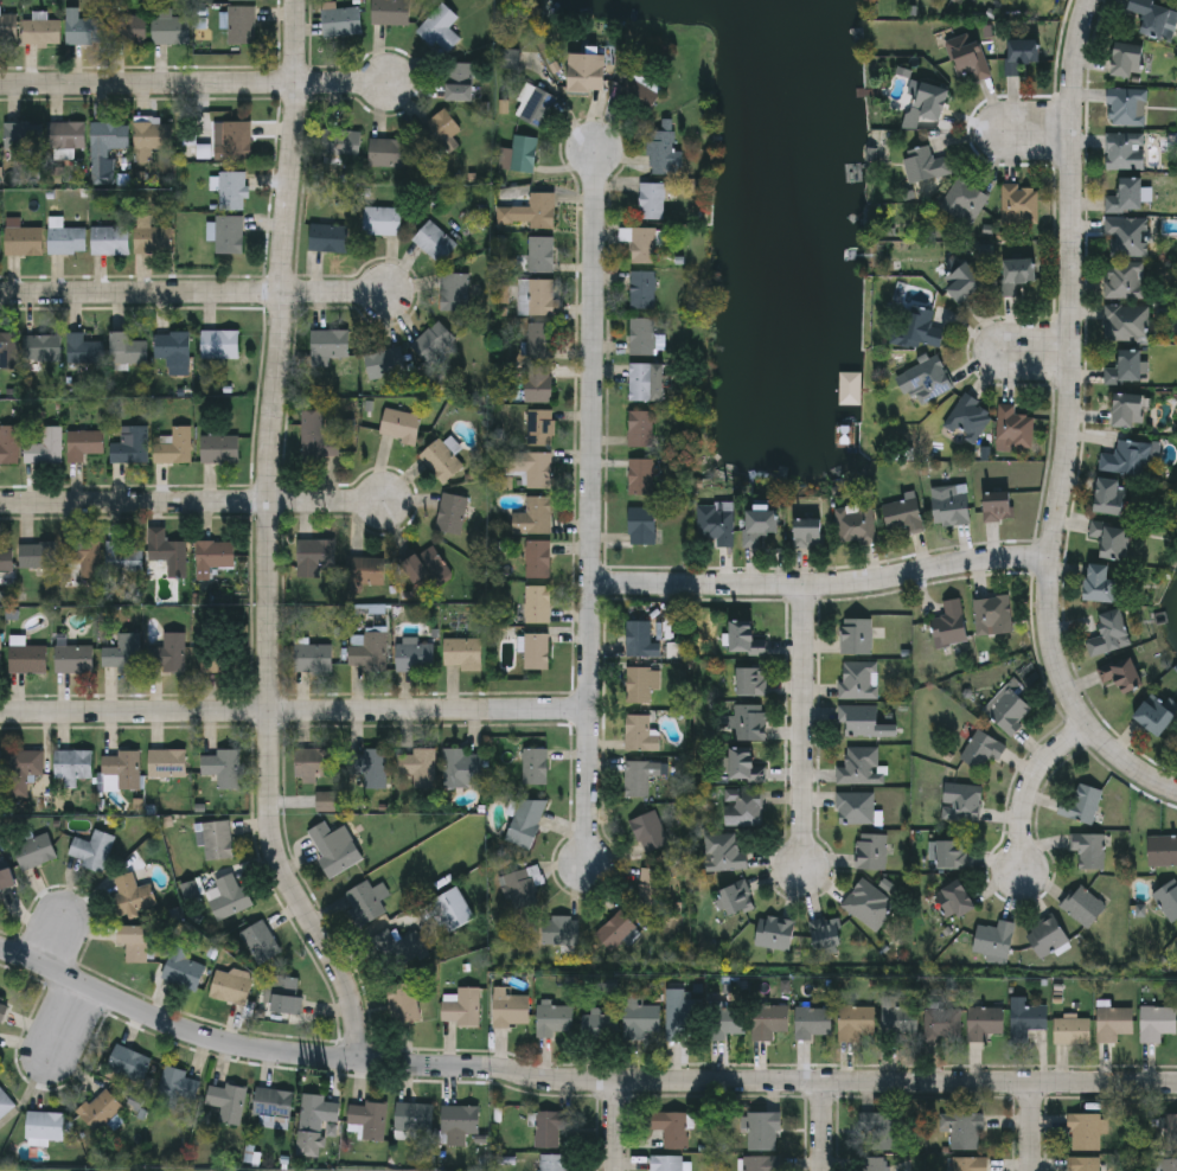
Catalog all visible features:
building: (243, 1)
building: (390, 12)
building: (1152, 15)
building: (341, 20)
building: (241, 24)
building: (8, 26)
building: (440, 27)
building: (128, 28)
building: (171, 28)
building: (40, 30)
building: (83, 30)
building: (1021, 52)
building: (967, 55)
building: (508, 57)
building: (1127, 59)
building: (586, 71)
building: (459, 81)
road: (197, 85)
building: (640, 89)
building: (932, 100)
building: (537, 105)
building: (1126, 105)
building: (440, 130)
building: (23, 134)
building: (65, 134)
building: (109, 134)
road: (1037, 134)
building: (151, 136)
building: (232, 139)
building: (340, 143)
building: (663, 149)
building: (1125, 149)
building: (390, 151)
building: (522, 152)
building: (925, 162)
building: (231, 190)
building: (1126, 196)
building: (651, 199)
building: (964, 200)
building: (1019, 204)
building: (533, 210)
building: (382, 219)
building: (229, 233)
building: (151, 236)
building: (1127, 236)
building: (330, 237)
building: (21, 238)
building: (66, 239)
building: (110, 239)
building: (434, 241)
building: (642, 244)
building: (0, 245)
building: (540, 254)
building: (1016, 273)
building: (1125, 280)
building: (962, 282)
building: (642, 289)
building: (454, 292)
road: (193, 294)
building: (538, 297)
building: (1127, 322)
building: (919, 327)
building: (641, 335)
building: (433, 341)
building: (219, 344)
building: (327, 345)
building: (41, 346)
building: (84, 347)
building: (127, 348)
building: (173, 348)
building: (8, 350)
road: (1036, 353)
building: (538, 361)
building: (384, 363)
building: (1126, 367)
building: (925, 378)
building: (646, 382)
building: (1128, 410)
building: (968, 416)
road: (1069, 421)
building: (399, 424)
building: (540, 427)
building: (1015, 427)
building: (640, 428)
building: (316, 437)
building: (8, 443)
building: (83, 443)
building: (129, 444)
building: (45, 446)
building: (173, 447)
building: (219, 448)
building: (1127, 456)
building: (441, 460)
building: (529, 467)
building: (640, 476)
building: (1109, 495)
road: (194, 504)
building: (949, 504)
building: (997, 506)
road: (593, 511)
building: (450, 512)
building: (533, 514)
building: (903, 514)
building: (715, 520)
building: (855, 521)
building: (641, 524)
building: (760, 524)
building: (808, 531)
building: (1112, 538)
road: (270, 540)
building: (315, 551)
building: (38, 552)
building: (166, 552)
building: (83, 556)
building: (122, 556)
building: (212, 556)
building: (535, 556)
building: (6, 559)
building: (365, 569)
building: (1101, 583)
road: (824, 584)
building: (537, 603)
building: (992, 614)
building: (949, 622)
building: (1111, 633)
building: (856, 635)
building: (744, 638)
building: (640, 639)
building: (367, 647)
building: (536, 651)
building: (172, 652)
building: (123, 653)
building: (462, 653)
building: (0, 657)
building: (313, 657)
building: (415, 657)
building: (27, 658)
building: (73, 658)
building: (220, 658)
building: (1121, 673)
building: (858, 679)
building: (751, 680)
building: (644, 686)
building: (1008, 708)
road: (295, 711)
building: (1154, 715)
building: (863, 721)
building: (750, 722)
road: (807, 729)
building: (639, 734)
building: (979, 747)
building: (167, 762)
building: (72, 763)
building: (314, 764)
building: (372, 764)
building: (418, 766)
building: (535, 766)
building: (743, 766)
building: (859, 766)
building: (223, 767)
building: (24, 768)
building: (461, 768)
building: (121, 769)
building: (0, 774)
building: (639, 776)
road: (1030, 786)
building: (961, 802)
building: (1081, 804)
building: (743, 807)
building: (855, 807)
building: (525, 821)
building: (648, 831)
building: (216, 839)
building: (333, 846)
building: (91, 849)
building: (1088, 849)
building: (1163, 849)
building: (871, 850)
building: (34, 851)
building: (723, 851)
building: (952, 853)
building: (7, 881)
building: (652, 885)
building: (520, 887)
building: (132, 894)
building: (230, 896)
building: (736, 896)
building: (955, 897)
building: (1168, 898)
building: (365, 900)
building: (869, 903)
building: (1082, 904)
building: (453, 908)
building: (559, 930)
building: (774, 930)
building: (618, 932)
building: (826, 932)
building: (1048, 935)
building: (134, 940)
building: (261, 940)
building: (994, 940)
road: (52, 941)
building: (399, 947)
building: (183, 970)
building: (236, 987)
building: (283, 992)
building: (404, 1000)
building: (461, 1005)
building: (2, 1007)
building: (510, 1009)
building: (897, 1016)
road: (70, 1017)
building: (555, 1017)
building: (641, 1017)
building: (680, 1019)
building: (725, 1019)
building: (770, 1019)
building: (815, 1019)
building: (858, 1019)
building: (1026, 1019)
building: (983, 1020)
building: (1157, 1020)
building: (1113, 1022)
building: (599, 1023)
building: (942, 1023)
building: (1073, 1030)
building: (128, 1064)
road: (577, 1083)
building: (175, 1084)
building: (226, 1100)
building: (5, 1101)
building: (273, 1105)
building: (101, 1108)
building: (411, 1116)
building: (367, 1118)
building: (460, 1118)
building: (314, 1121)
building: (45, 1124)
building: (550, 1126)
road: (616, 1127)
building: (670, 1127)
road: (824, 1127)
road: (1031, 1127)
building: (876, 1130)
building: (964, 1130)
building: (763, 1131)
building: (1085, 1131)
building: (1171, 1132)
building: (555, 1162)
building: (667, 1163)
building: (762, 1163)
building: (971, 1163)
building: (1085, 1163)
building: (871, 1164)
building: (1168, 1164)

